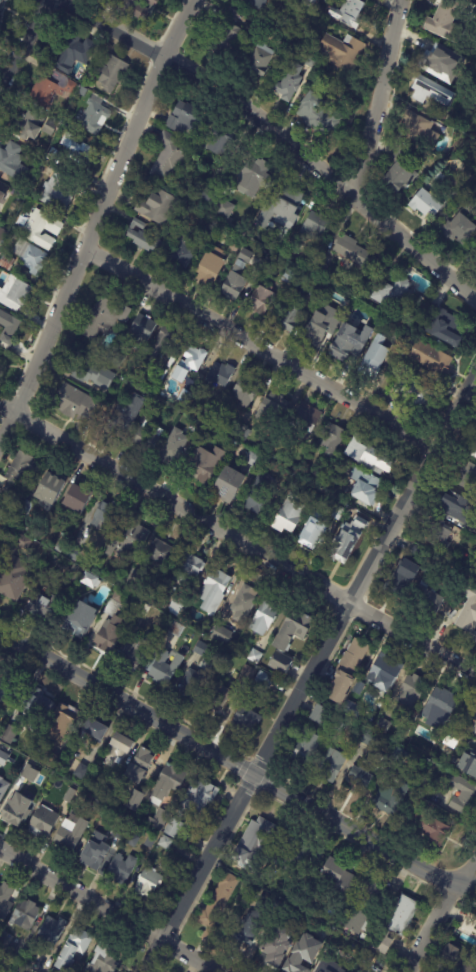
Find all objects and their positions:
building: (0, 1)
building: (257, 3)
building: (310, 3)
building: (136, 8)
building: (348, 13)
building: (444, 22)
building: (225, 36)
building: (271, 37)
road: (24, 43)
building: (343, 53)
building: (72, 54)
building: (279, 59)
building: (258, 61)
building: (311, 62)
building: (442, 64)
building: (110, 73)
building: (271, 77)
building: (289, 83)
building: (69, 87)
road: (372, 93)
building: (425, 93)
building: (41, 95)
building: (93, 116)
building: (319, 116)
building: (187, 121)
building: (28, 126)
building: (419, 129)
building: (48, 131)
road: (270, 134)
building: (67, 141)
building: (218, 141)
building: (85, 154)
building: (168, 155)
building: (12, 163)
building: (399, 170)
building: (252, 175)
building: (461, 183)
building: (58, 191)
building: (209, 192)
building: (1, 198)
building: (231, 201)
building: (425, 202)
building: (158, 205)
building: (223, 208)
building: (282, 208)
road: (98, 221)
building: (314, 225)
building: (42, 229)
building: (457, 229)
building: (13, 231)
building: (207, 232)
building: (2, 236)
building: (142, 237)
building: (294, 246)
building: (233, 248)
building: (350, 249)
building: (475, 250)
building: (182, 251)
building: (475, 254)
building: (30, 257)
building: (6, 263)
building: (211, 265)
building: (237, 276)
building: (288, 276)
building: (316, 291)
building: (396, 292)
building: (19, 293)
building: (261, 298)
building: (341, 306)
building: (290, 312)
building: (105, 316)
building: (445, 325)
building: (317, 327)
building: (9, 331)
building: (140, 331)
building: (396, 340)
building: (87, 342)
building: (350, 342)
building: (160, 345)
road: (258, 354)
building: (0, 355)
building: (375, 357)
building: (433, 359)
building: (116, 360)
building: (403, 361)
building: (190, 363)
building: (90, 372)
building: (220, 374)
building: (246, 390)
building: (413, 392)
building: (185, 396)
building: (69, 397)
building: (138, 401)
building: (96, 406)
building: (150, 406)
building: (275, 407)
building: (210, 411)
building: (304, 419)
building: (121, 420)
building: (239, 428)
building: (247, 433)
building: (147, 438)
building: (331, 438)
building: (233, 442)
building: (242, 447)
building: (172, 448)
building: (230, 450)
building: (473, 452)
building: (368, 454)
building: (253, 460)
building: (207, 463)
building: (19, 470)
building: (467, 478)
building: (295, 480)
building: (228, 484)
building: (51, 486)
building: (366, 486)
building: (328, 489)
building: (257, 495)
building: (77, 498)
building: (324, 500)
building: (27, 507)
building: (457, 508)
building: (2, 510)
building: (106, 513)
building: (286, 513)
building: (1, 527)
building: (438, 533)
building: (314, 535)
road: (237, 537)
building: (347, 540)
building: (132, 542)
building: (20, 543)
building: (112, 547)
building: (59, 548)
building: (415, 550)
building: (160, 552)
building: (74, 554)
building: (0, 556)
building: (54, 561)
building: (187, 569)
building: (74, 574)
building: (405, 575)
road: (367, 576)
building: (14, 578)
building: (90, 580)
building: (131, 581)
building: (213, 591)
building: (428, 596)
building: (151, 603)
building: (244, 603)
building: (176, 604)
building: (43, 607)
building: (468, 609)
building: (145, 610)
building: (264, 618)
building: (76, 620)
building: (111, 625)
building: (205, 627)
building: (176, 629)
building: (221, 635)
building: (473, 637)
building: (289, 638)
building: (136, 651)
building: (205, 651)
building: (255, 656)
building: (163, 667)
building: (347, 671)
building: (385, 672)
building: (248, 673)
building: (264, 679)
building: (191, 686)
building: (11, 687)
building: (359, 687)
building: (412, 691)
building: (219, 696)
building: (353, 698)
building: (37, 704)
building: (440, 708)
building: (353, 710)
building: (472, 712)
building: (319, 714)
building: (246, 717)
building: (62, 720)
building: (343, 723)
building: (383, 726)
building: (94, 729)
building: (474, 731)
building: (8, 734)
building: (369, 738)
building: (410, 741)
building: (307, 747)
building: (119, 748)
building: (400, 755)
building: (3, 758)
building: (49, 761)
building: (469, 763)
road: (236, 764)
building: (331, 765)
building: (139, 766)
building: (366, 772)
building: (29, 773)
building: (80, 775)
building: (167, 783)
building: (64, 788)
building: (3, 789)
building: (461, 794)
building: (390, 798)
building: (133, 801)
building: (413, 803)
building: (192, 805)
building: (16, 810)
building: (144, 816)
building: (159, 820)
building: (42, 823)
building: (104, 825)
building: (431, 830)
building: (70, 833)
building: (131, 840)
building: (150, 841)
building: (165, 843)
building: (253, 845)
building: (95, 854)
building: (299, 856)
building: (121, 869)
road: (201, 873)
building: (338, 877)
building: (148, 883)
building: (5, 901)
building: (217, 905)
road: (110, 910)
building: (361, 910)
road: (441, 914)
building: (24, 915)
building: (396, 924)
building: (469, 925)
building: (452, 926)
building: (250, 929)
building: (50, 933)
building: (5, 945)
building: (475, 946)
building: (276, 948)
building: (357, 948)
building: (73, 949)
building: (304, 955)
building: (449, 955)
building: (103, 959)
building: (469, 965)
building: (36, 967)
building: (327, 968)

